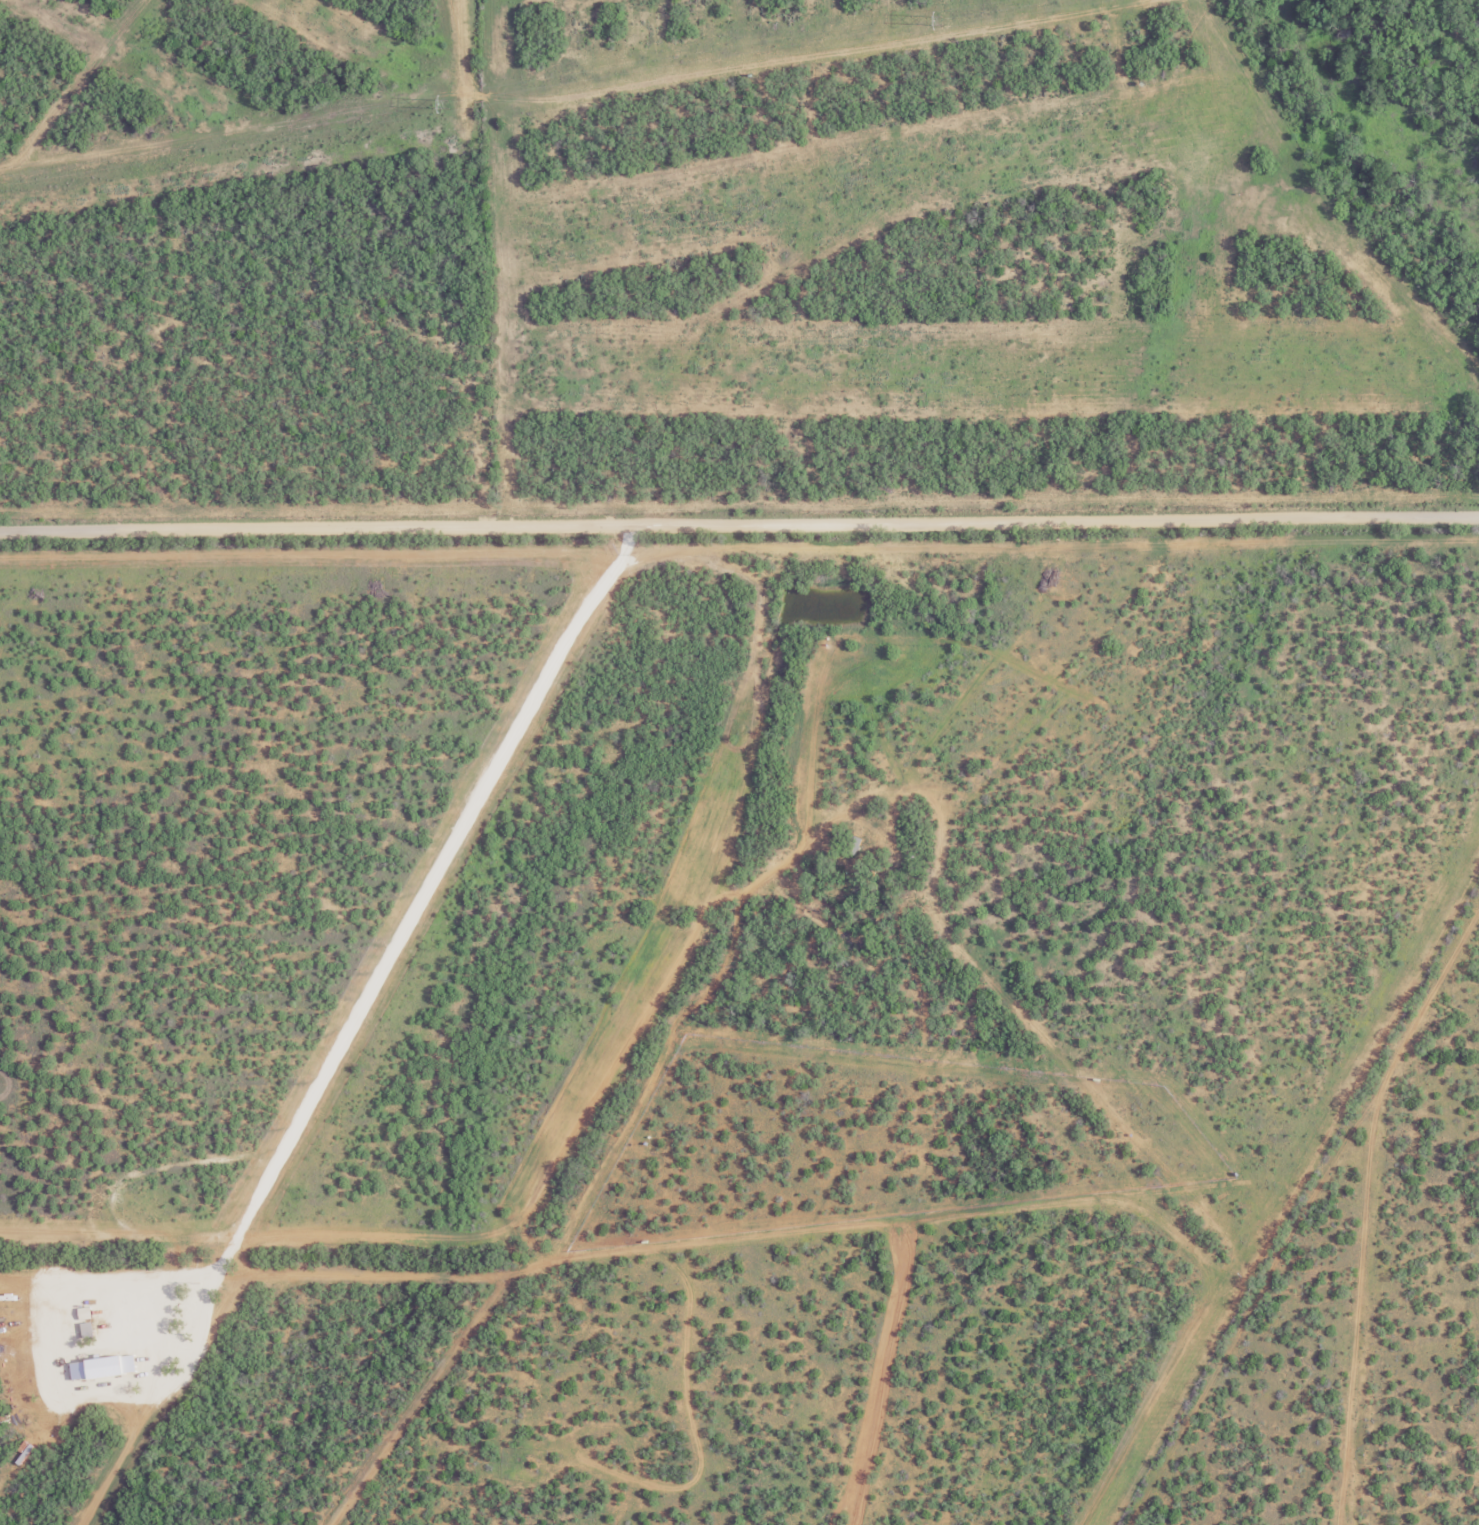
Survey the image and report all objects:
power tower: (940, 22)
power tower: (447, 104)
road: (739, 524)
road: (565, 651)
road: (327, 1068)
building: (138, 1306)

